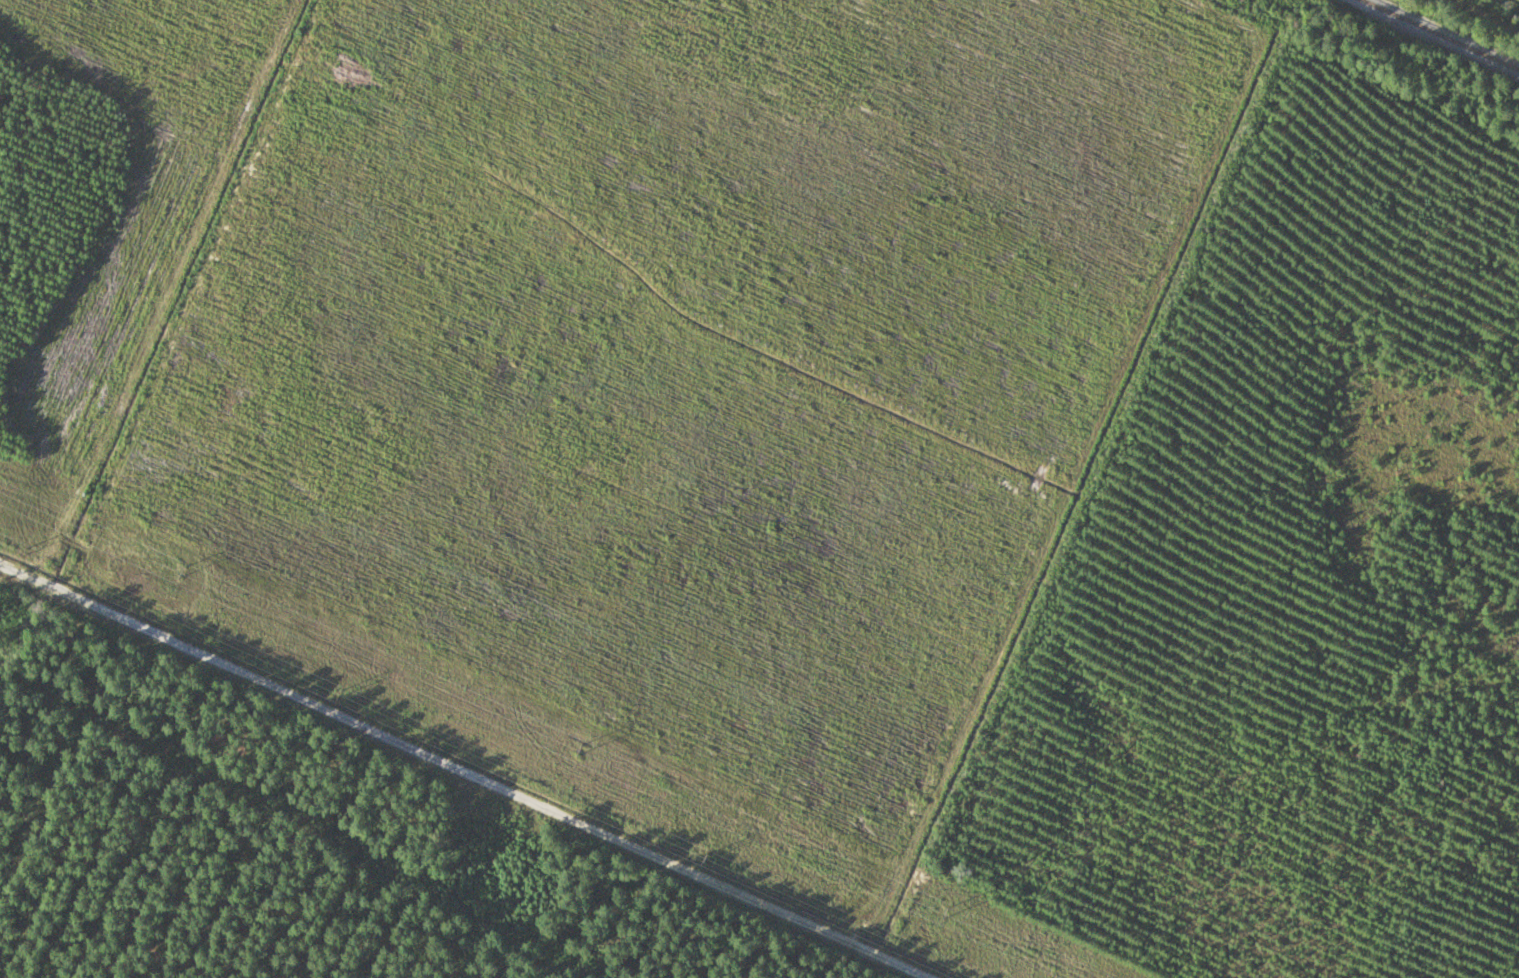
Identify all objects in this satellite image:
railway: (1448, 31)
power tower: (27, 556)
power tower: (174, 571)
power tower: (341, 697)
power tower: (574, 750)
power tower: (704, 859)
power tower: (937, 912)

